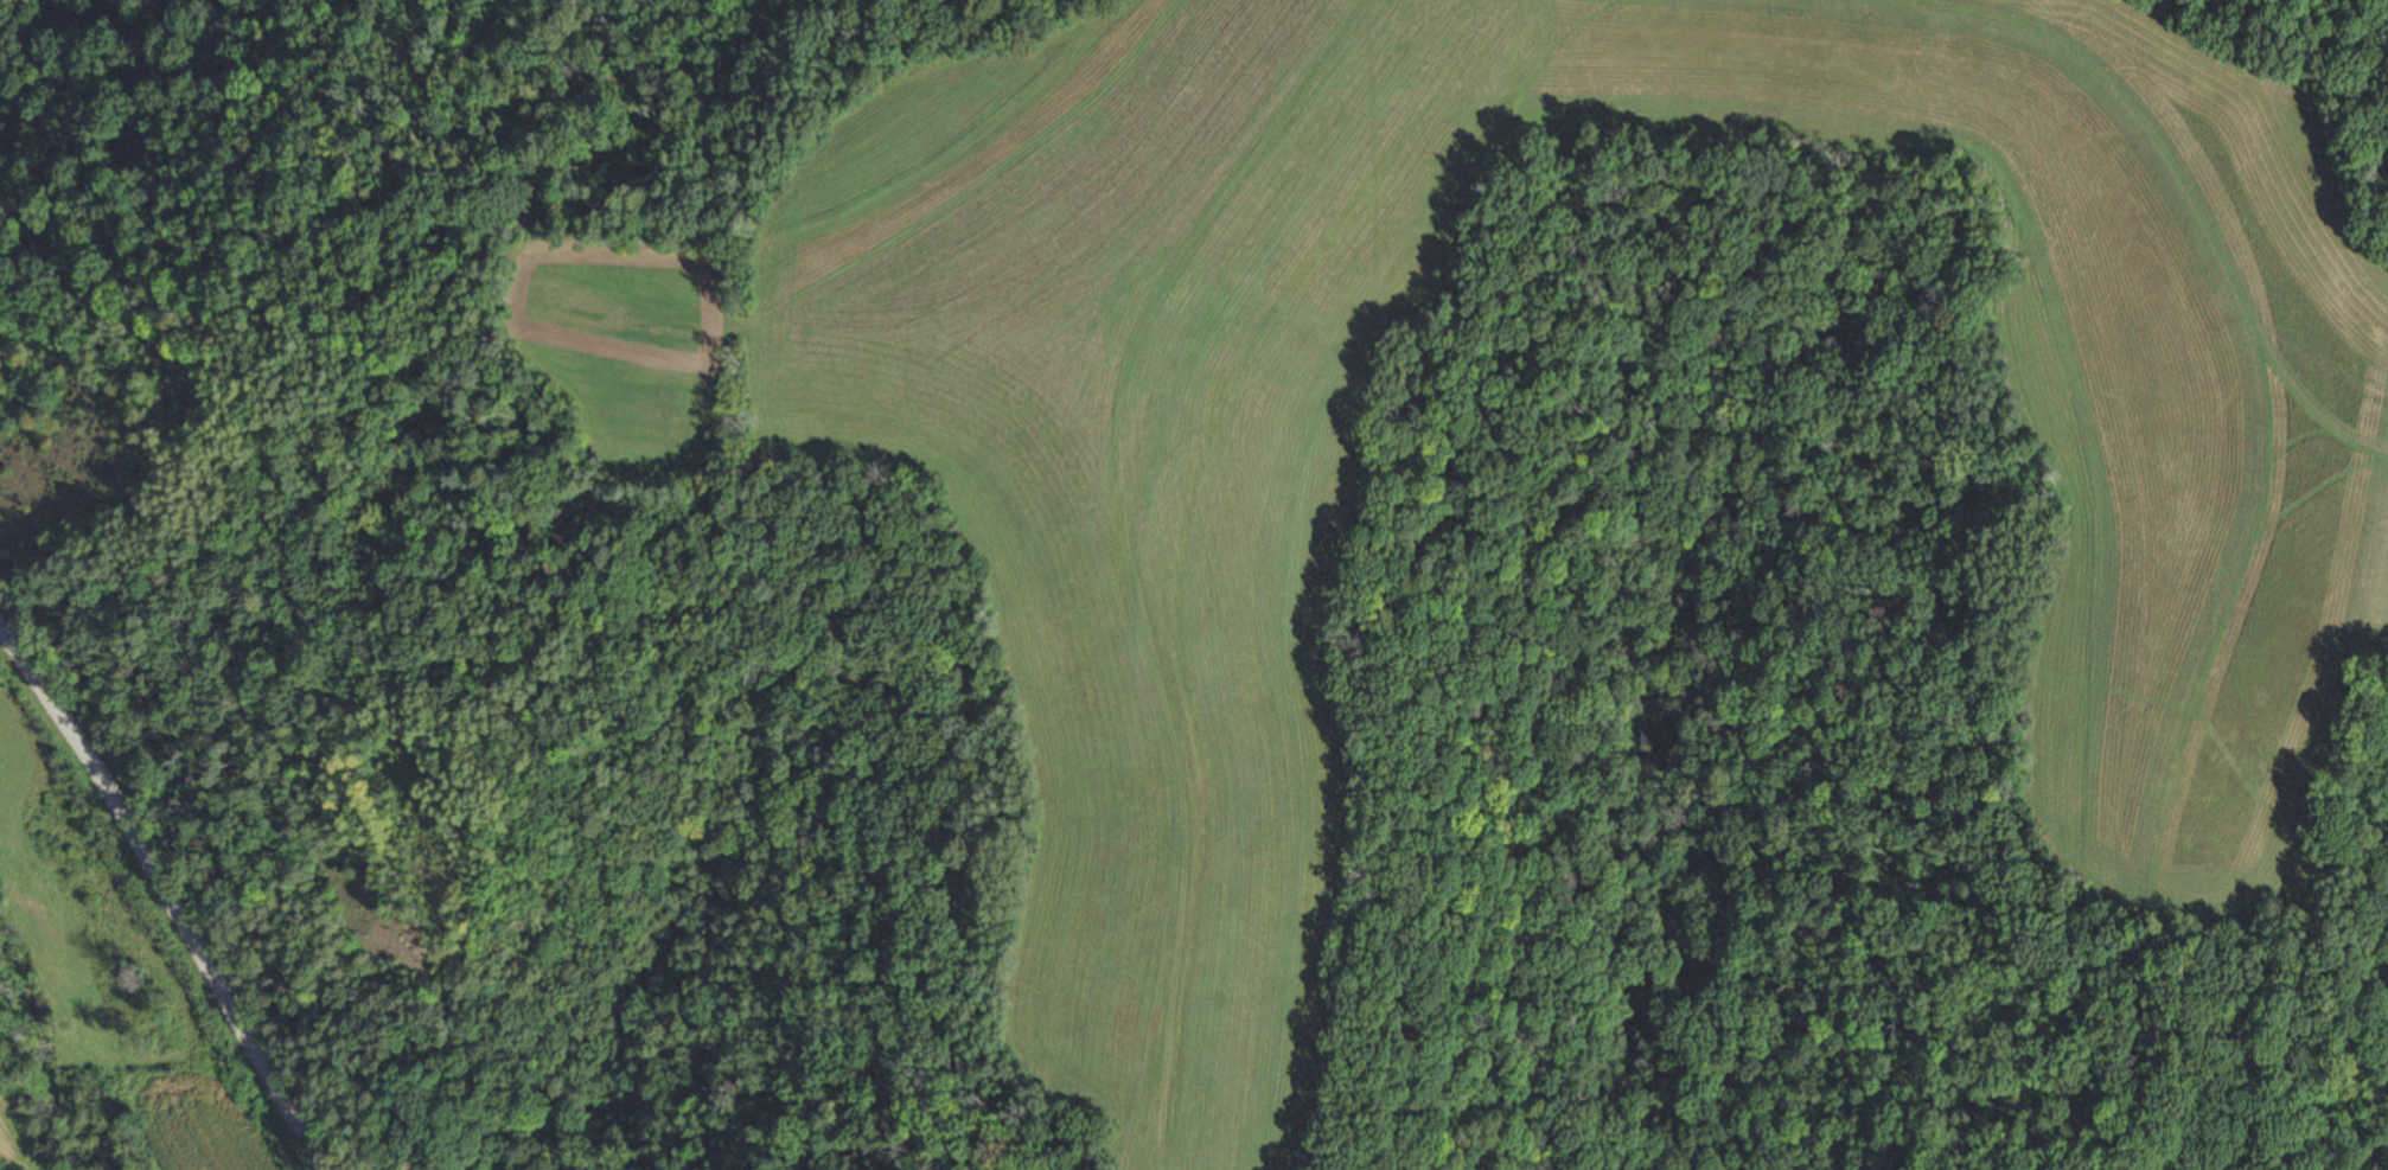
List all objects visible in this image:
road: (168, 895)

